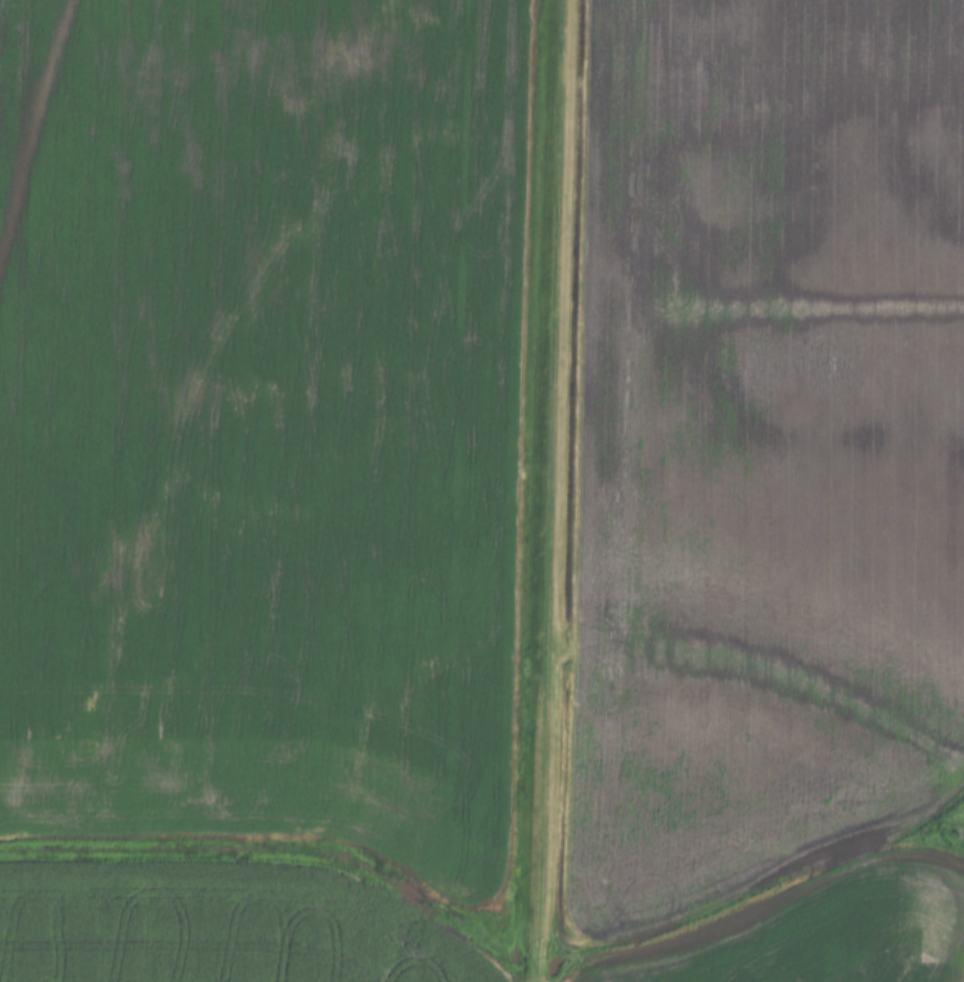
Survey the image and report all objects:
crop: (263, 420)
road: (548, 491)
crop: (768, 491)
crop: (216, 927)

